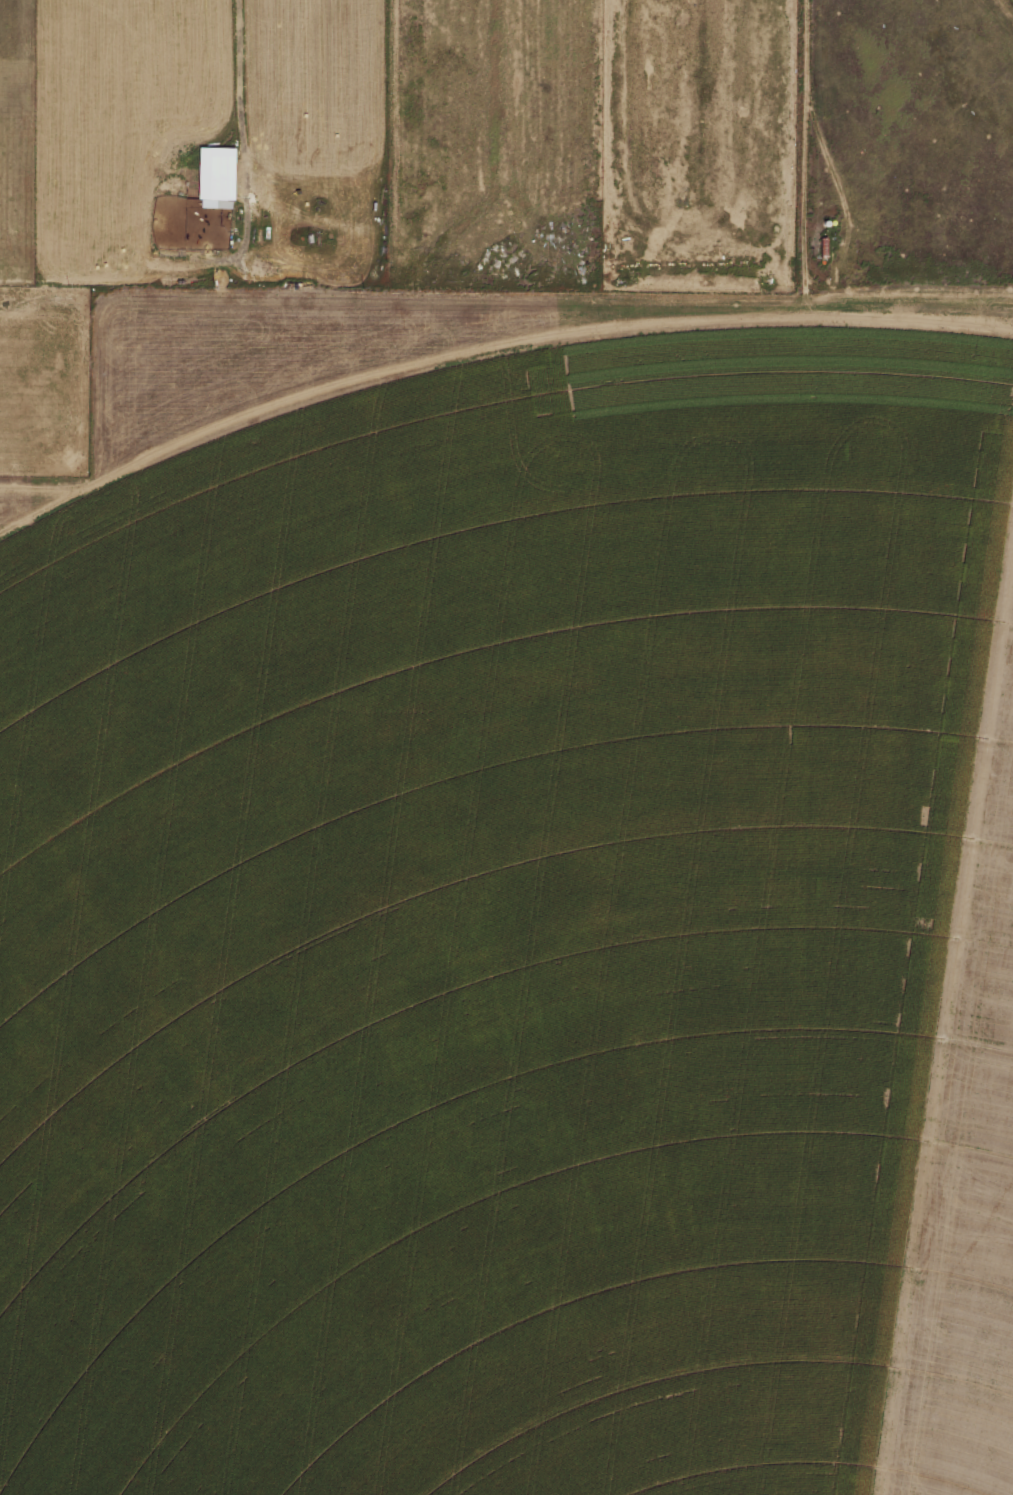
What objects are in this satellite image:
building: (213, 178)

